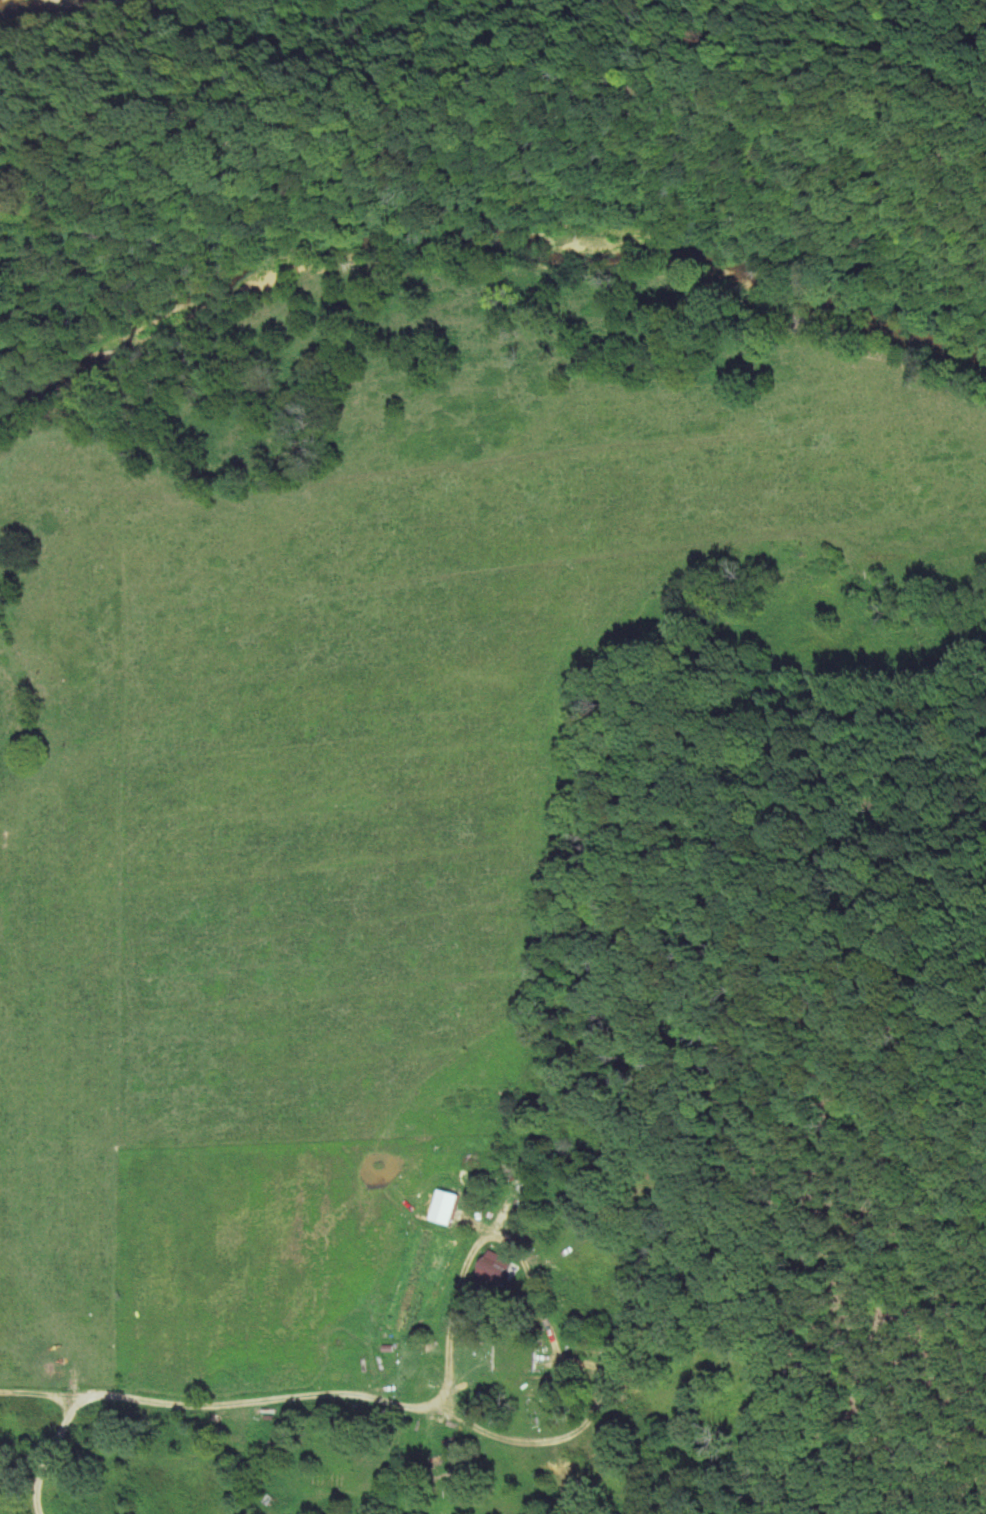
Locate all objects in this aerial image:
building: (460, 1213)
road: (463, 1292)
road: (327, 1400)
road: (55, 1454)

